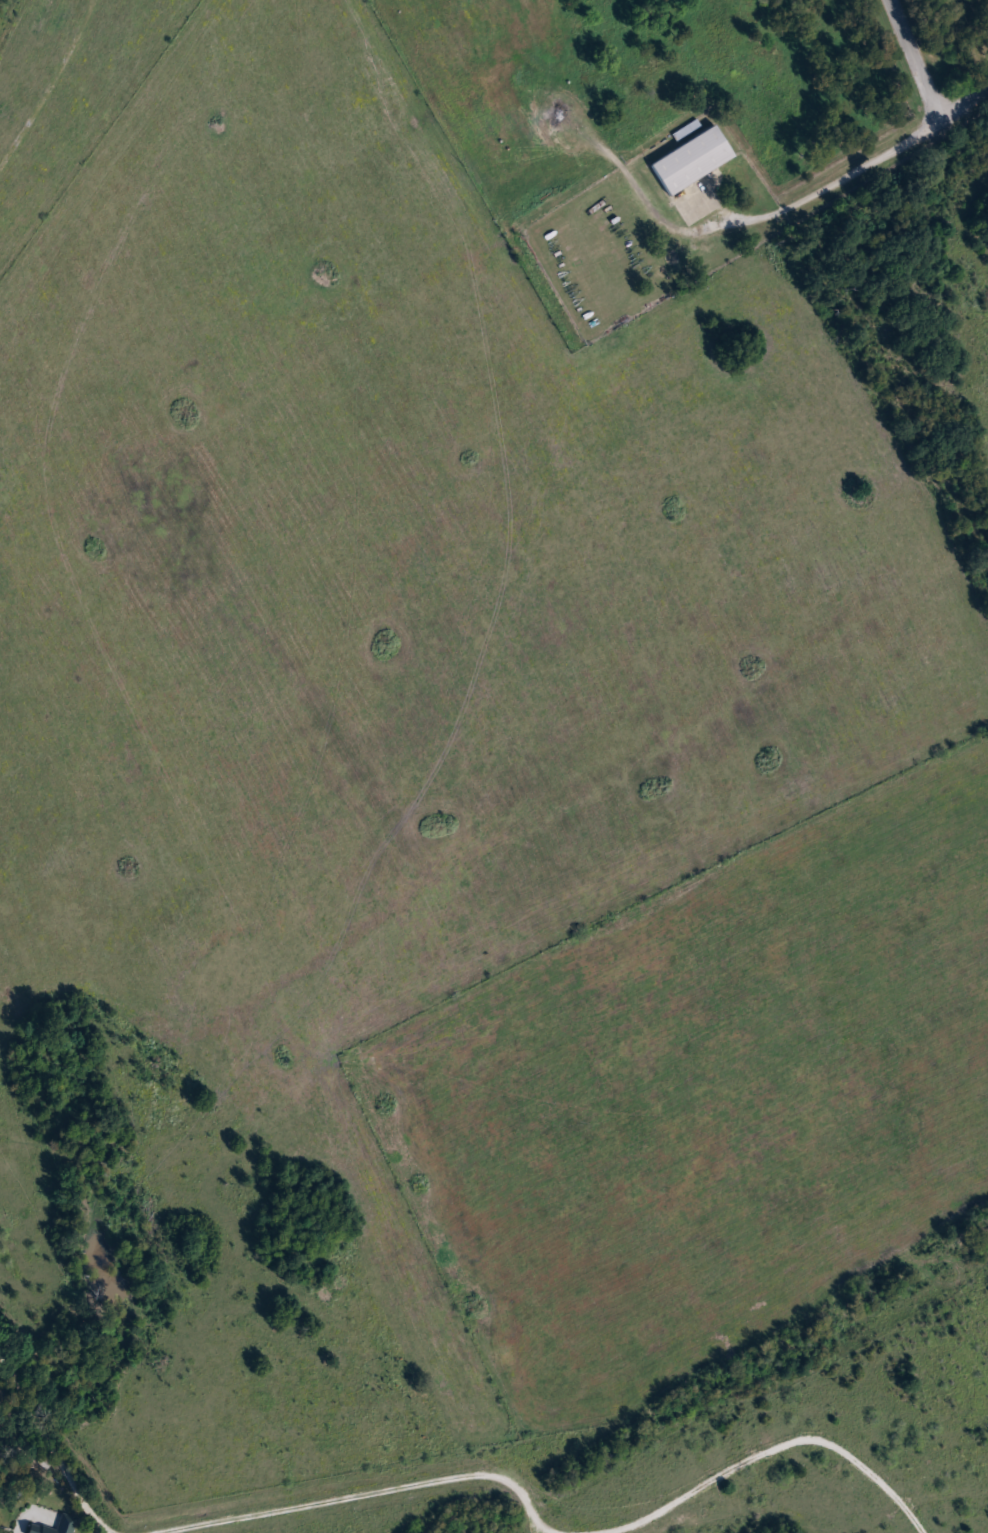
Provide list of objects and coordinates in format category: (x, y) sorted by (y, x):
road: (913, 60)
road: (48, 83)
road: (962, 104)
building: (692, 160)
road: (841, 178)
road: (46, 1437)
building: (59, 1525)

